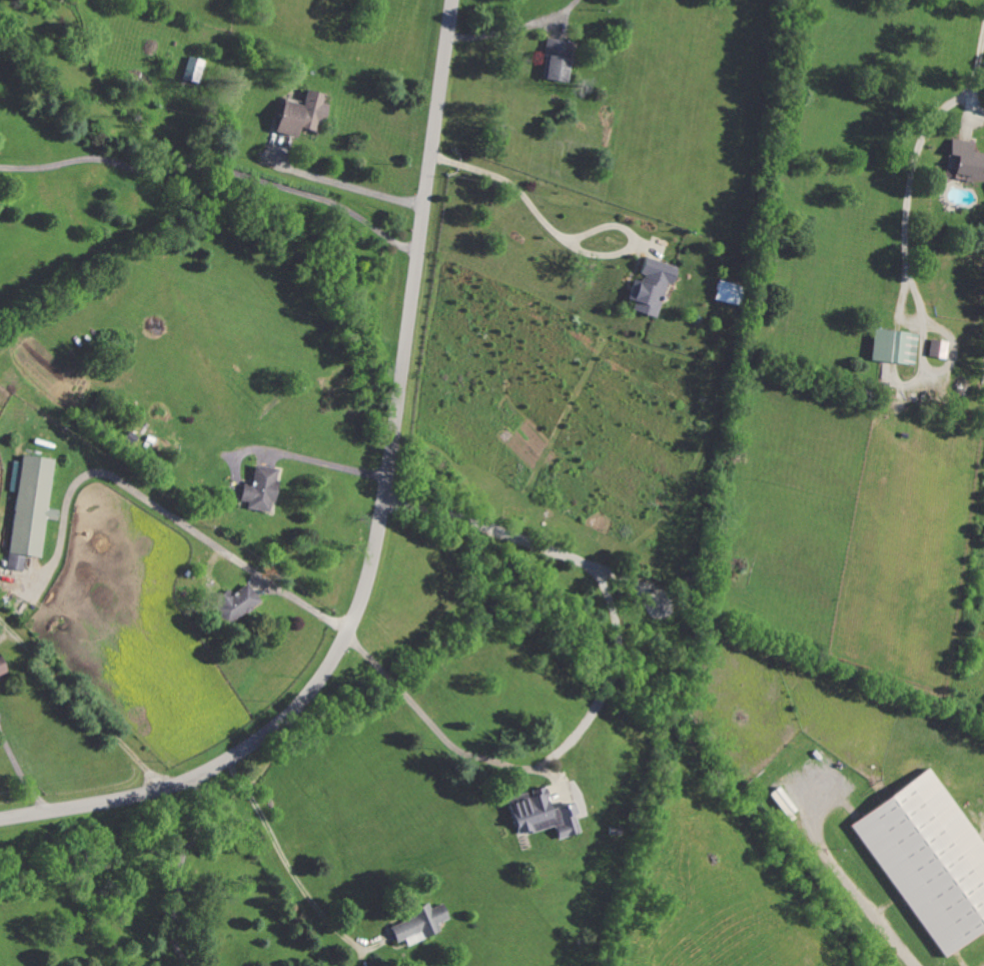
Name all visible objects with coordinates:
road: (519, 30)
building: (555, 60)
building: (191, 70)
building: (299, 115)
road: (917, 152)
building: (964, 161)
road: (218, 166)
road: (348, 187)
road: (541, 204)
building: (647, 287)
building: (724, 292)
building: (892, 347)
building: (936, 349)
road: (337, 466)
building: (258, 490)
building: (28, 511)
road: (379, 522)
building: (233, 604)
building: (1, 671)
road: (82, 701)
road: (492, 750)
road: (27, 764)
building: (539, 815)
road: (281, 841)
building: (928, 861)
road: (182, 870)
road: (844, 880)
building: (417, 925)

